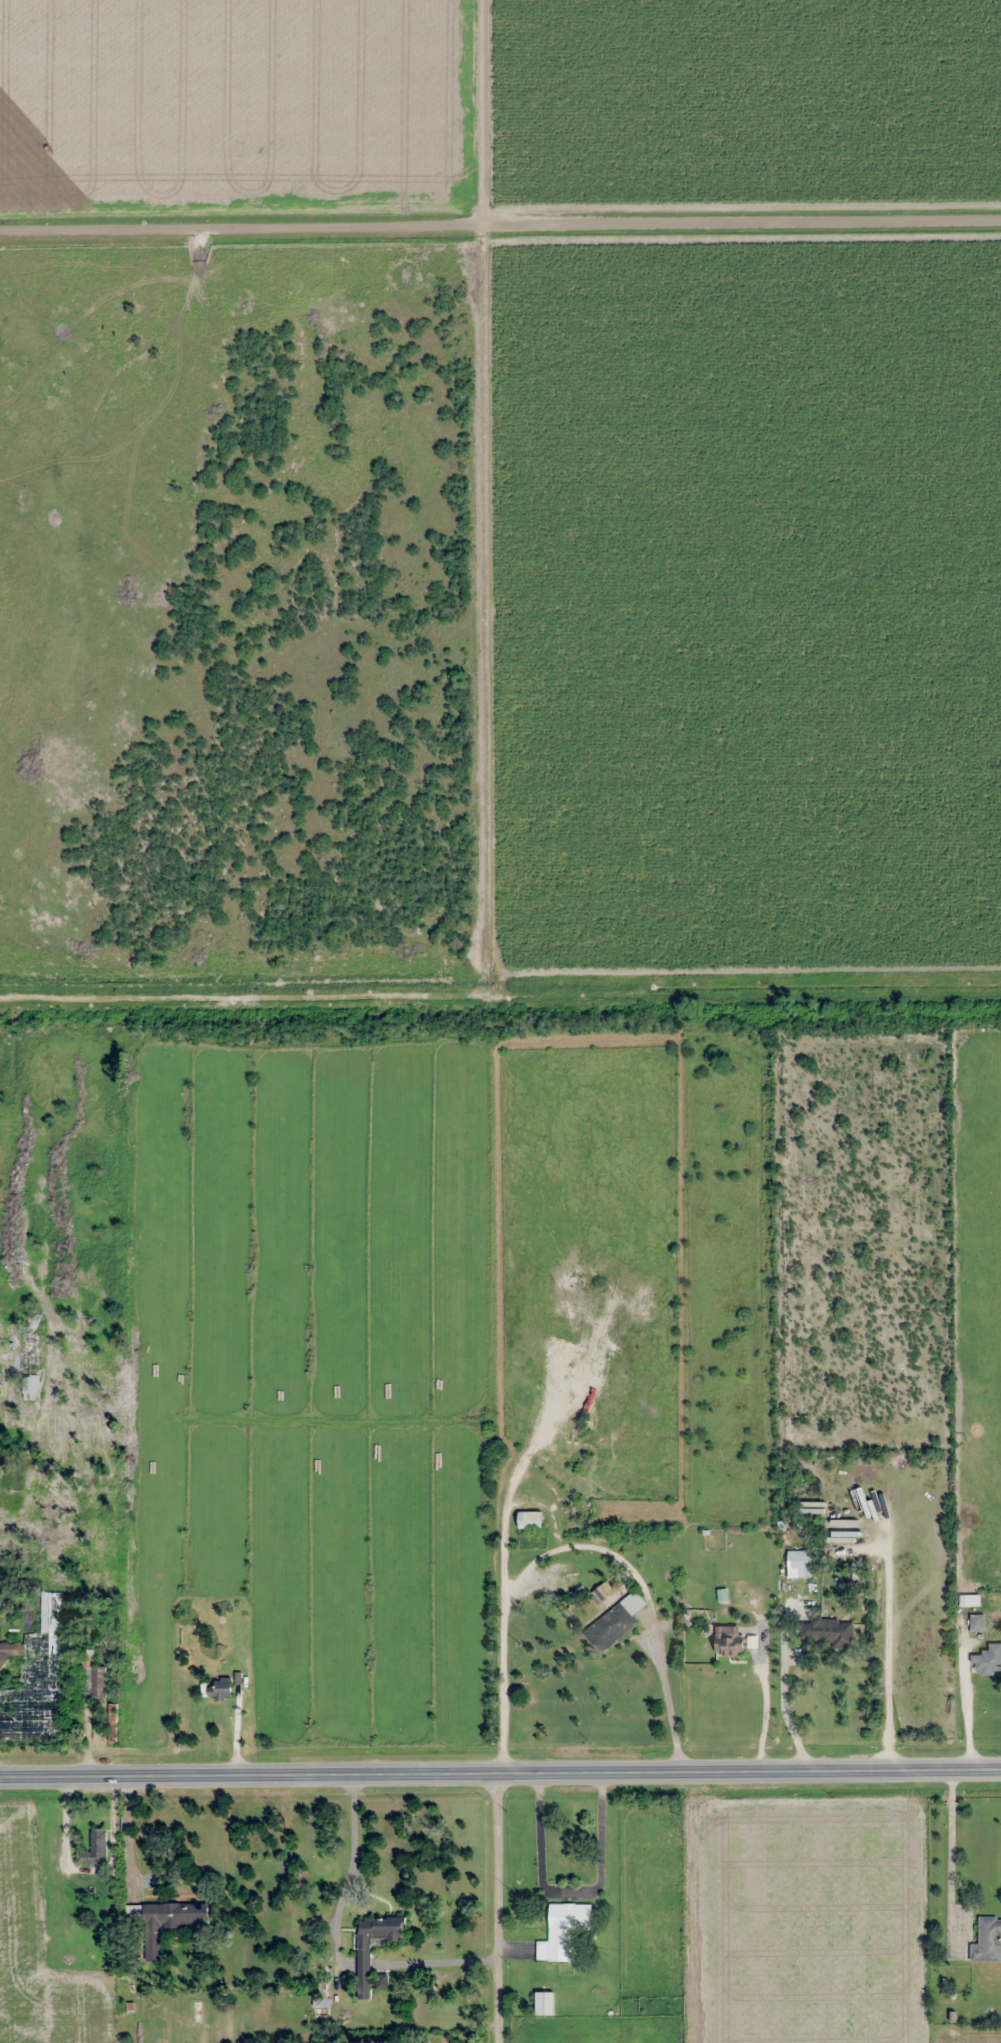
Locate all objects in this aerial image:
road: (457, 109)
road: (500, 218)
building: (30, 1364)
building: (810, 1508)
building: (530, 1520)
building: (799, 1564)
building: (615, 1622)
building: (976, 1622)
building: (828, 1632)
building: (728, 1641)
building: (11, 1652)
building: (987, 1661)
building: (98, 1677)
building: (223, 1688)
road: (500, 1772)
building: (95, 1848)
road: (496, 1908)
building: (168, 1922)
building: (565, 1928)
building: (987, 1940)
building: (363, 1968)
building: (382, 1982)
building: (321, 2008)

